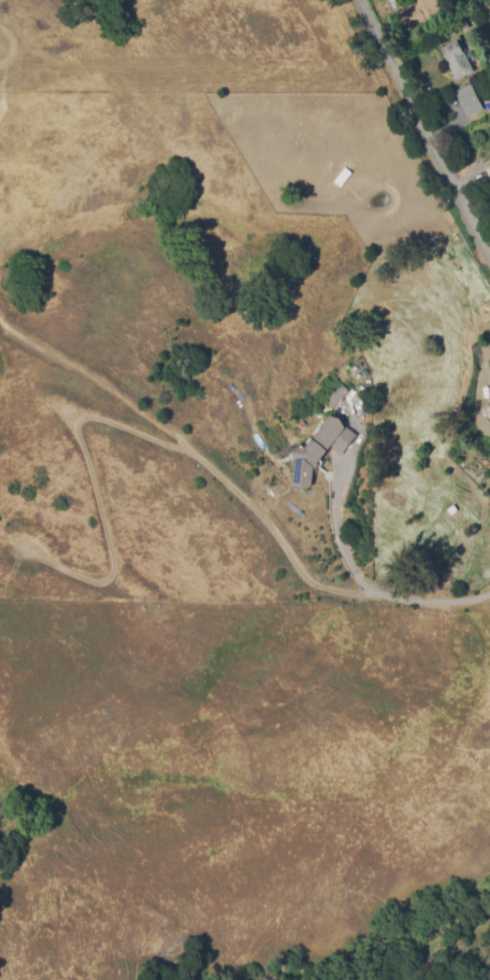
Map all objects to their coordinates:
building: (422, 13)
building: (457, 58)
building: (468, 100)
road: (422, 127)
building: (489, 169)
building: (338, 394)
building: (489, 404)
building: (320, 451)
road: (366, 584)

